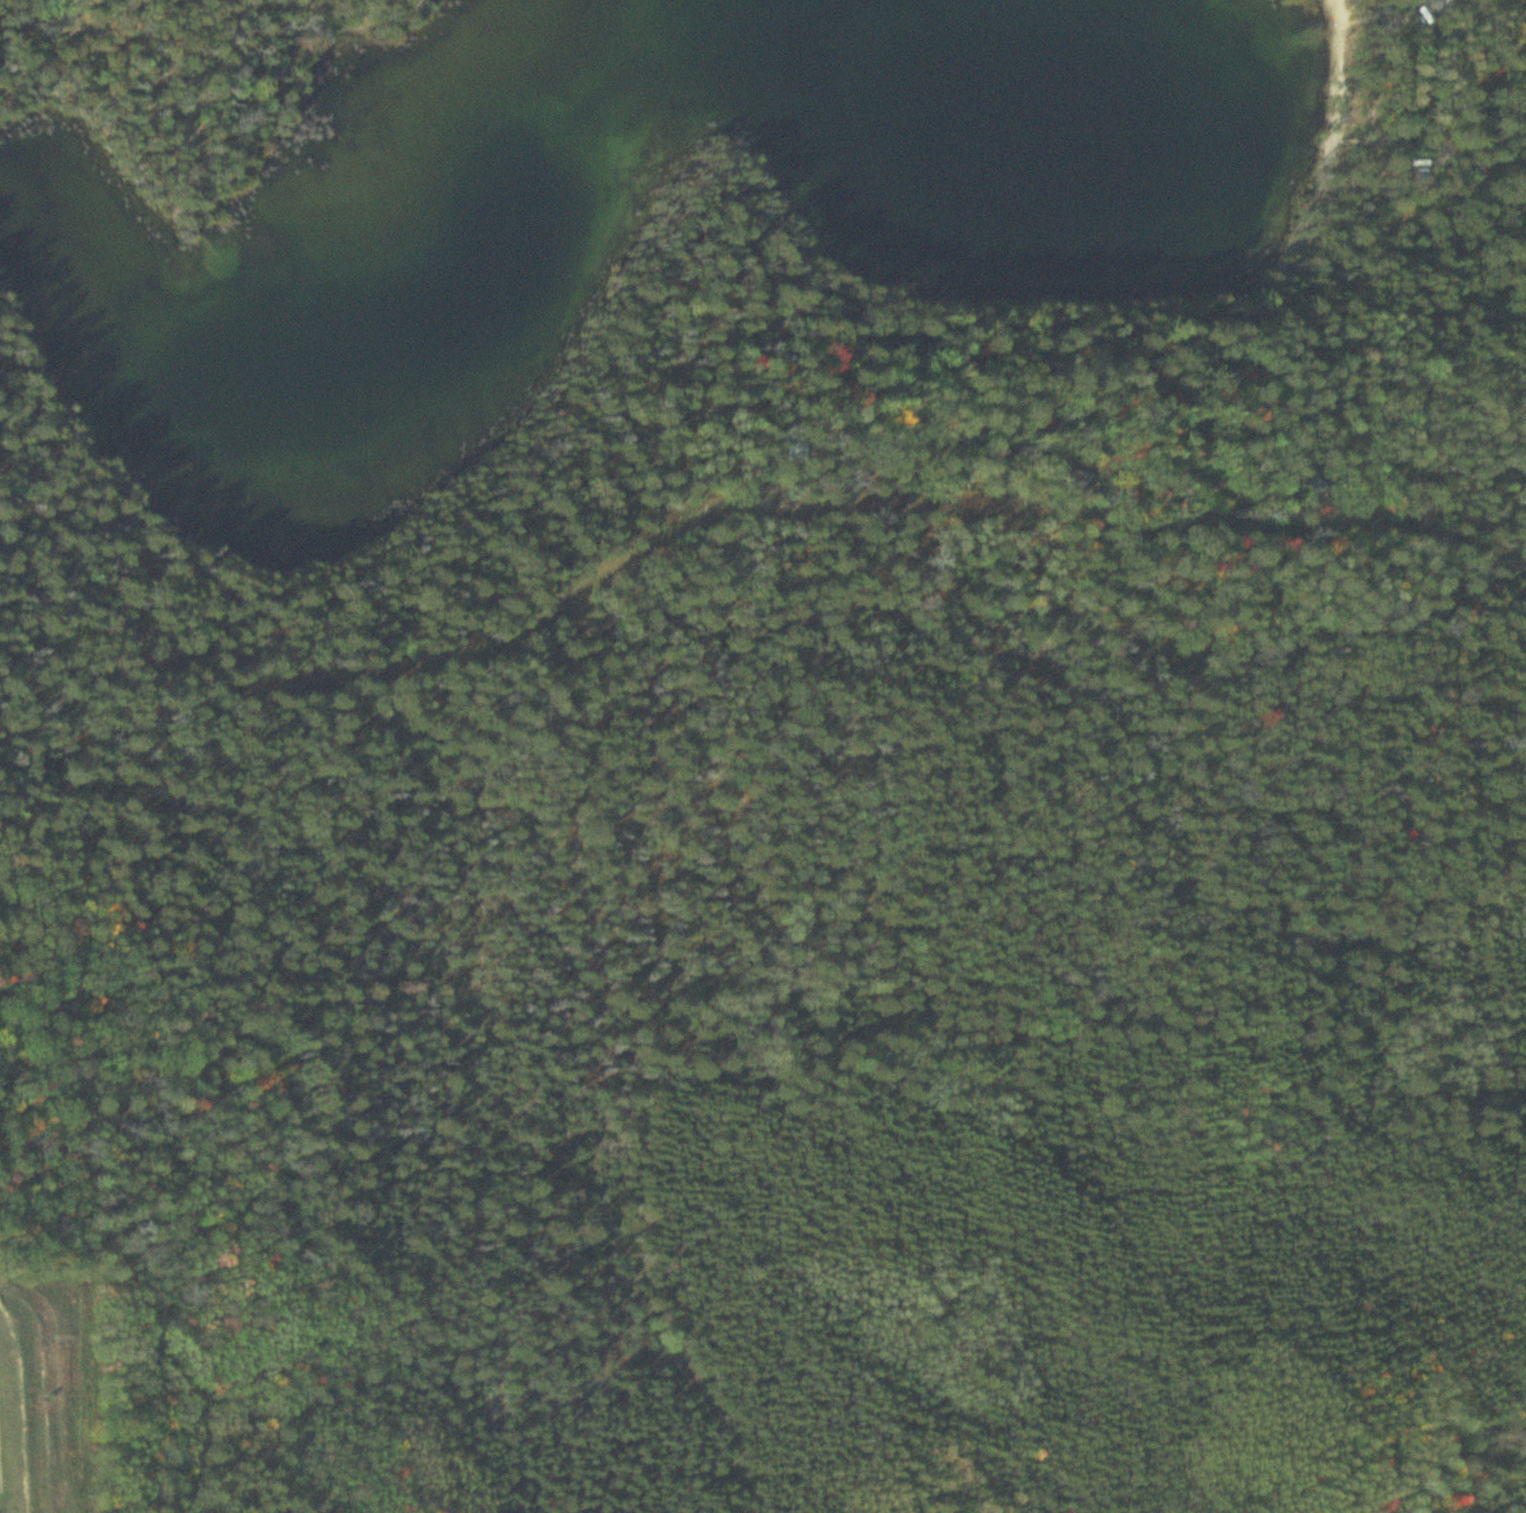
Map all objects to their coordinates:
road: (1450, 85)
road: (1522, 550)
road: (1171, 682)

